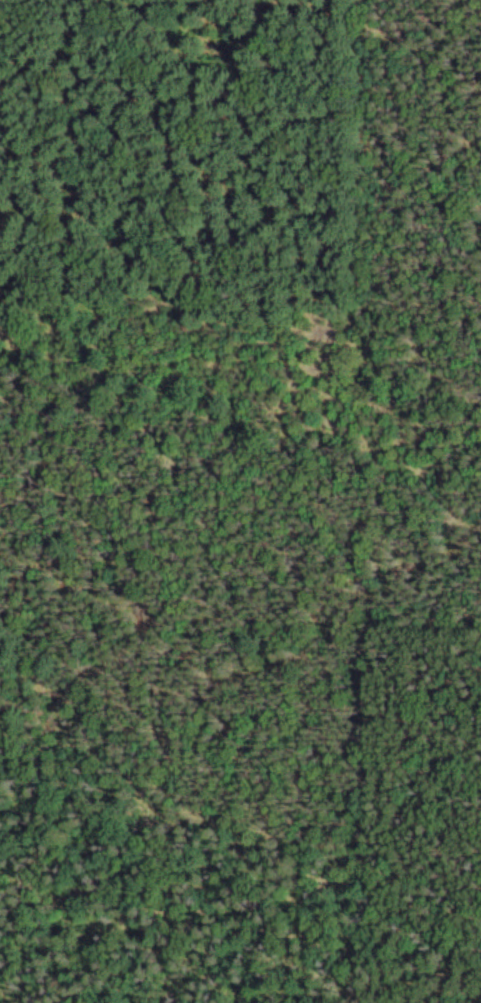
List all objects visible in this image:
road: (304, 832)

